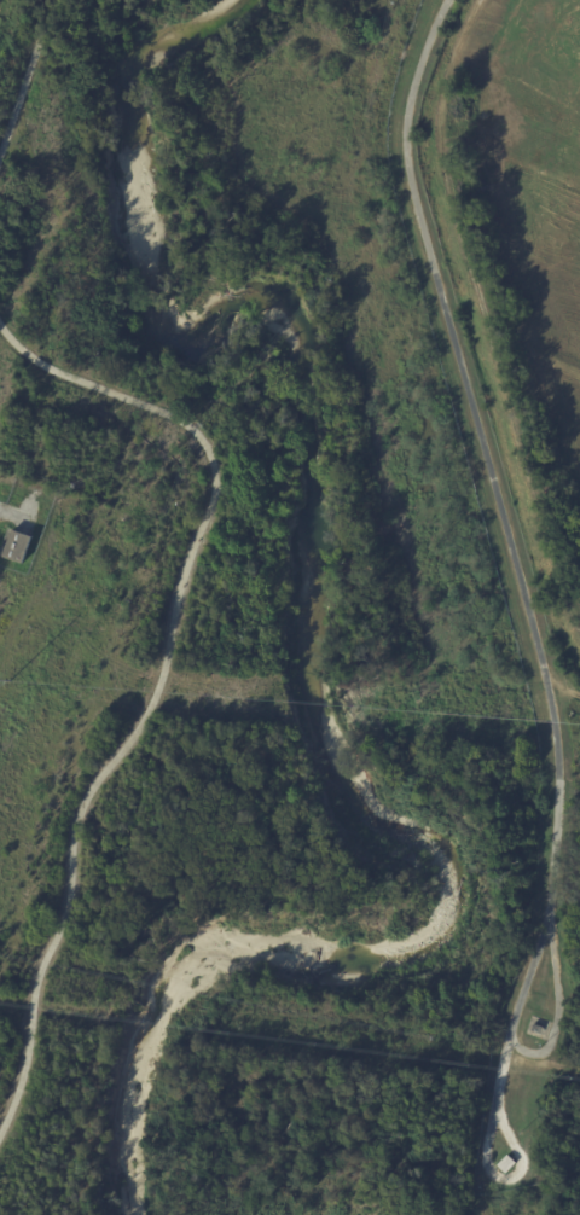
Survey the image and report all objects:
road: (0, 1)
road: (24, 74)
wastewater plant: (520, 245)
road: (487, 313)
road: (489, 460)
building: (18, 547)
road: (157, 675)
power tower: (8, 681)
building: (535, 1028)
road: (530, 1051)
road: (492, 1121)
building: (506, 1164)

